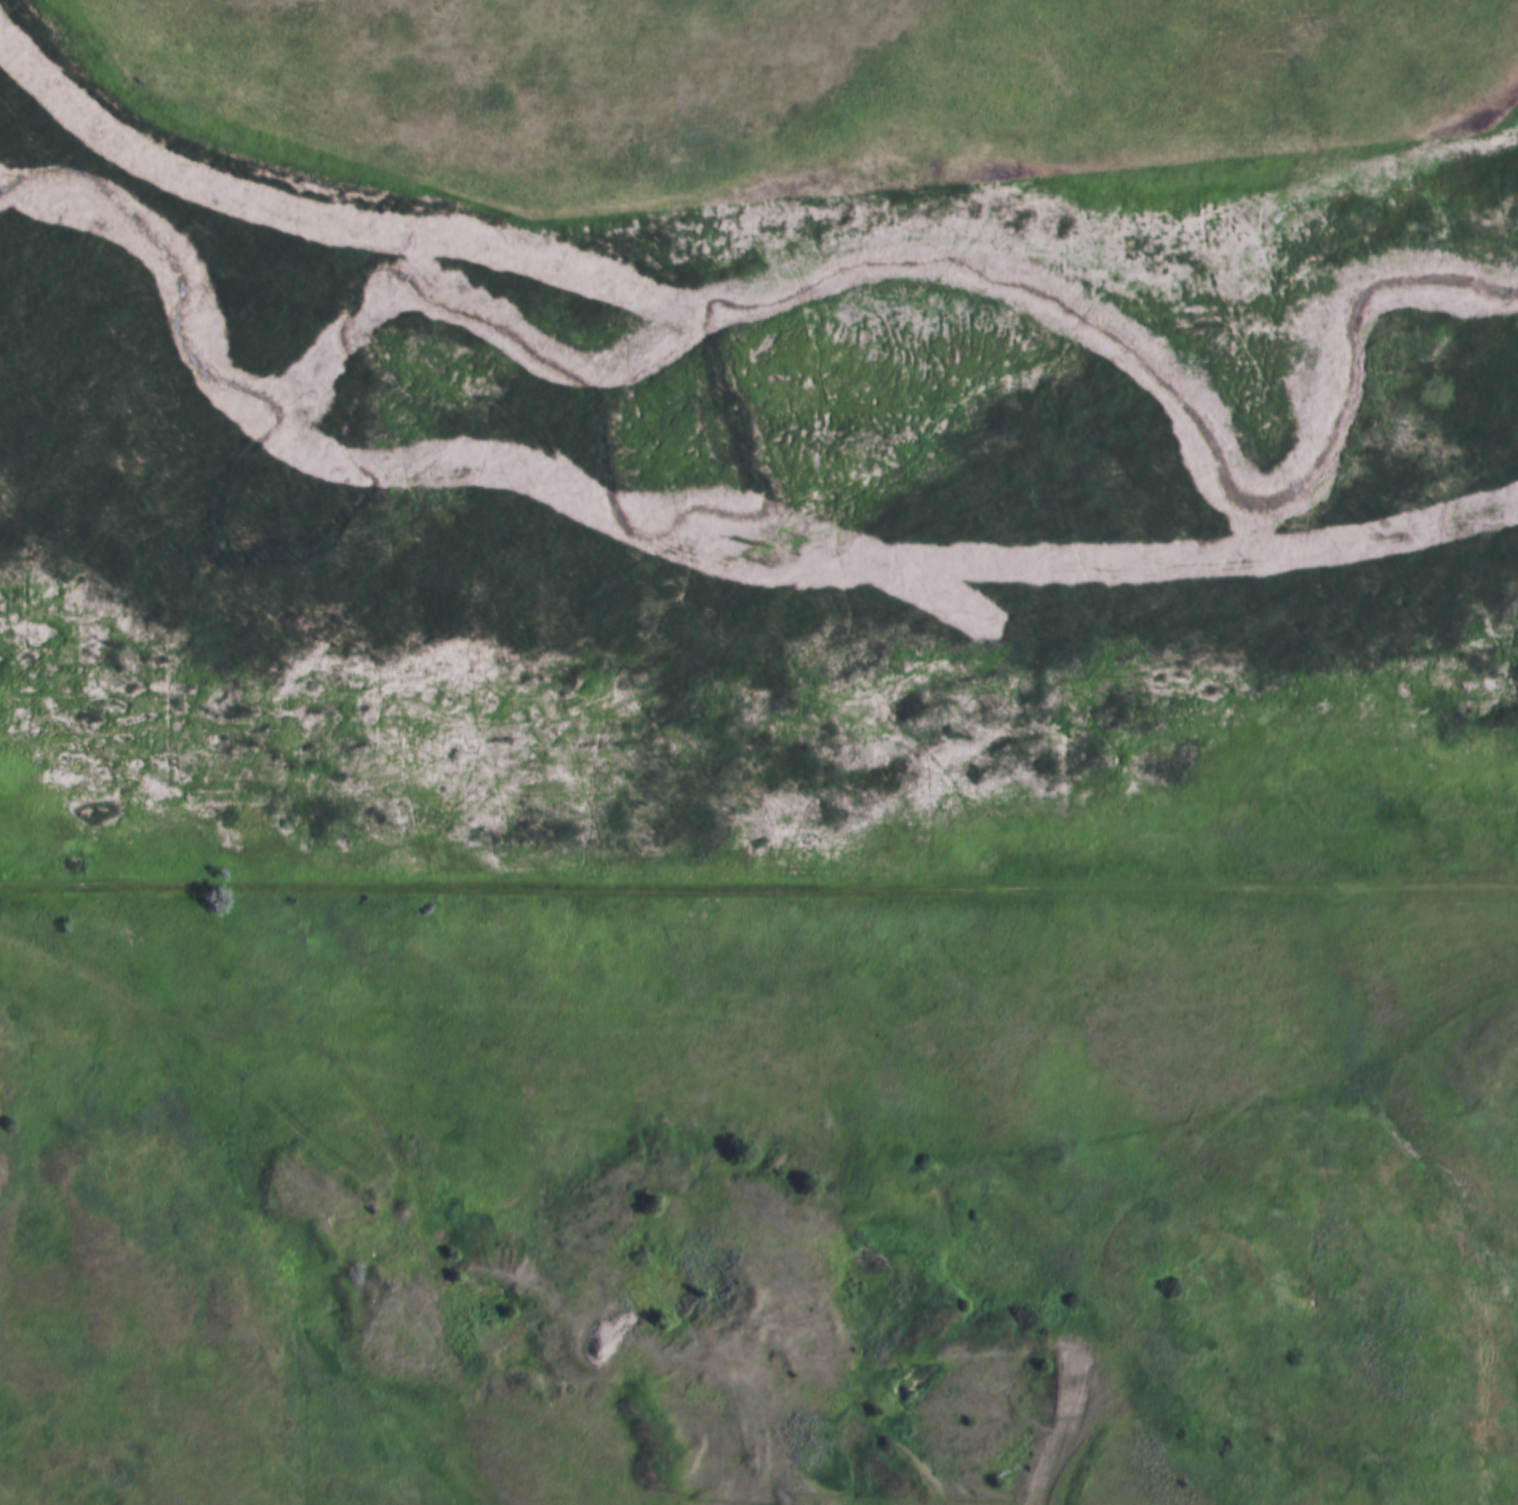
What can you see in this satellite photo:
river: (668, 549)
road: (759, 889)

